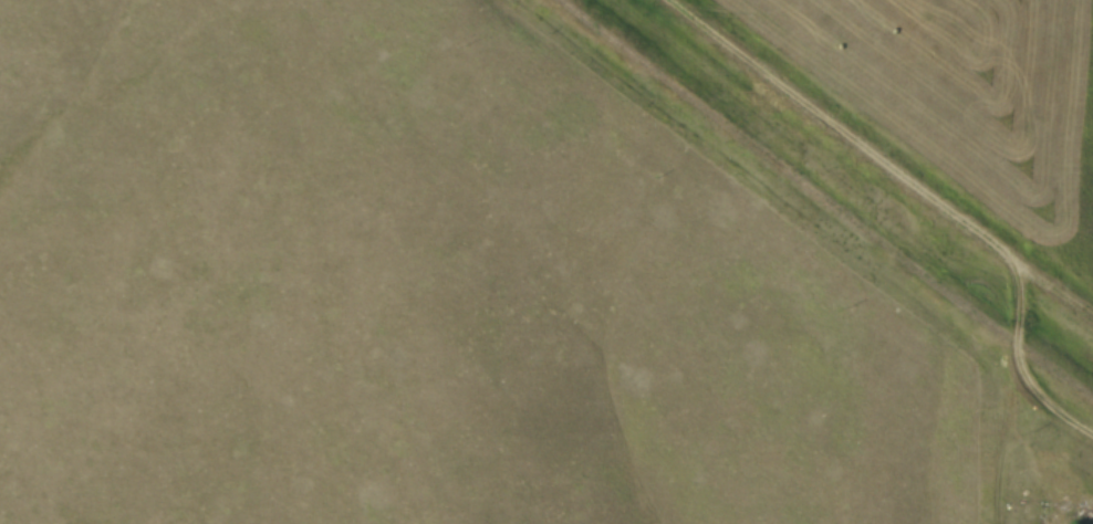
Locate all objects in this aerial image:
road: (870, 161)
railway: (819, 195)

